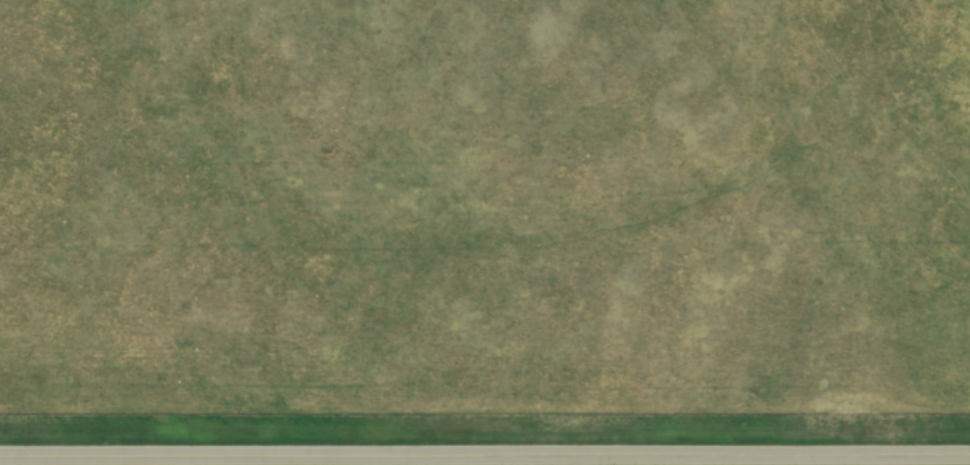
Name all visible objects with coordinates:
road: (485, 455)

